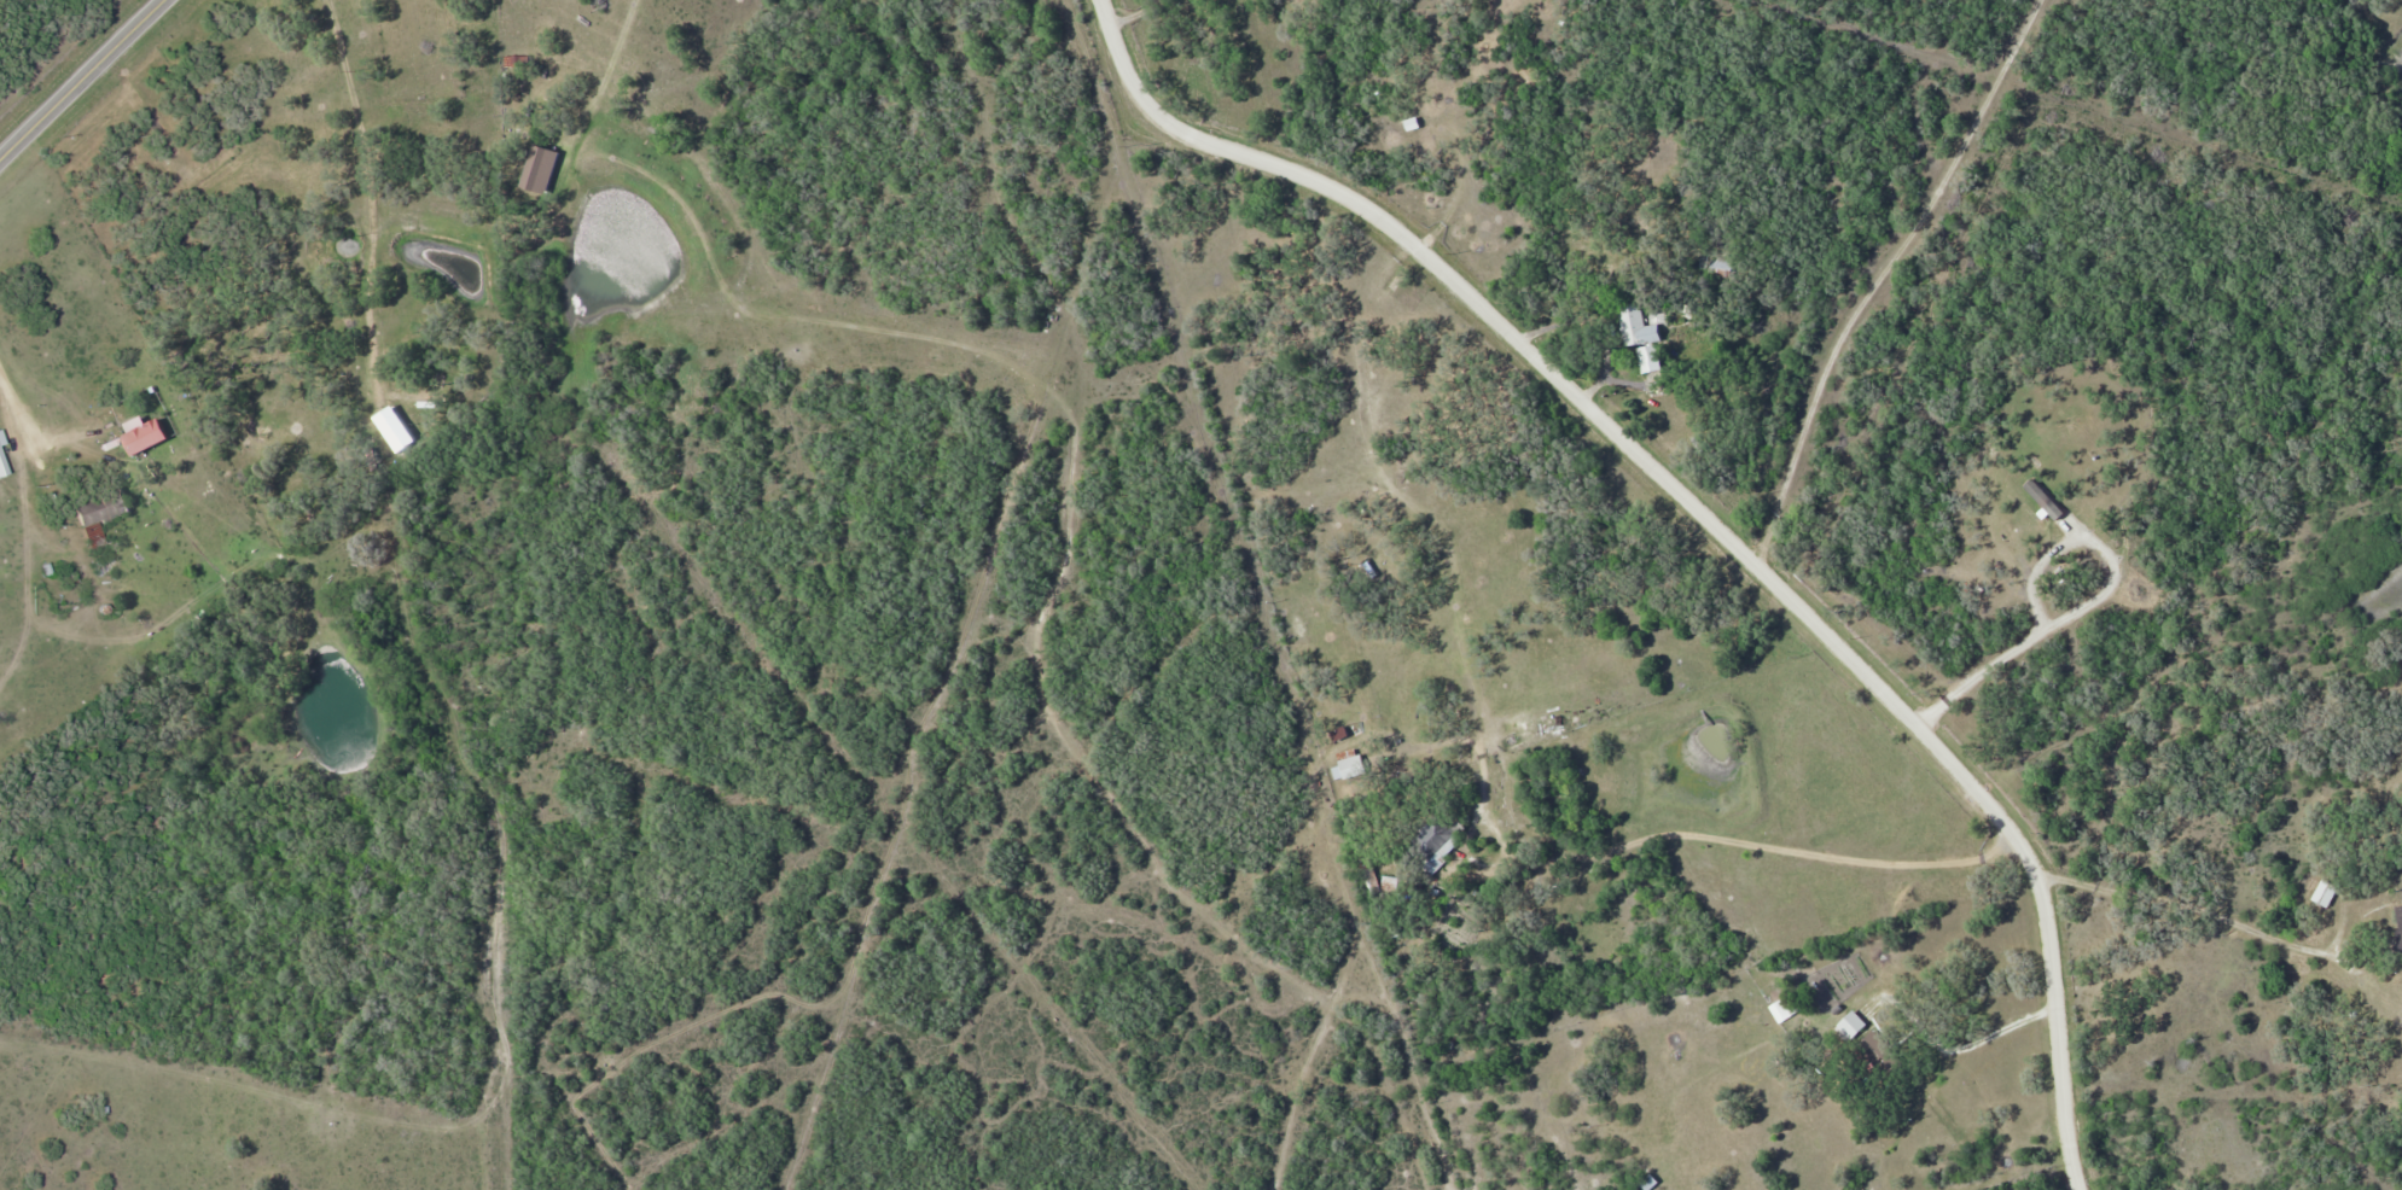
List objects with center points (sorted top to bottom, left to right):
building: (516, 62)
road: (85, 82)
building: (161, 132)
road: (371, 198)
building: (1717, 264)
building: (1635, 326)
building: (1648, 358)
building: (411, 396)
road: (18, 410)
building: (1, 441)
building: (2, 466)
road: (1709, 512)
building: (98, 515)
building: (1349, 764)
building: (1431, 841)
road: (1751, 845)
building: (2324, 891)
road: (2180, 909)
building: (2398, 934)
building: (1793, 1004)
building: (1853, 1026)
building: (1878, 1051)

